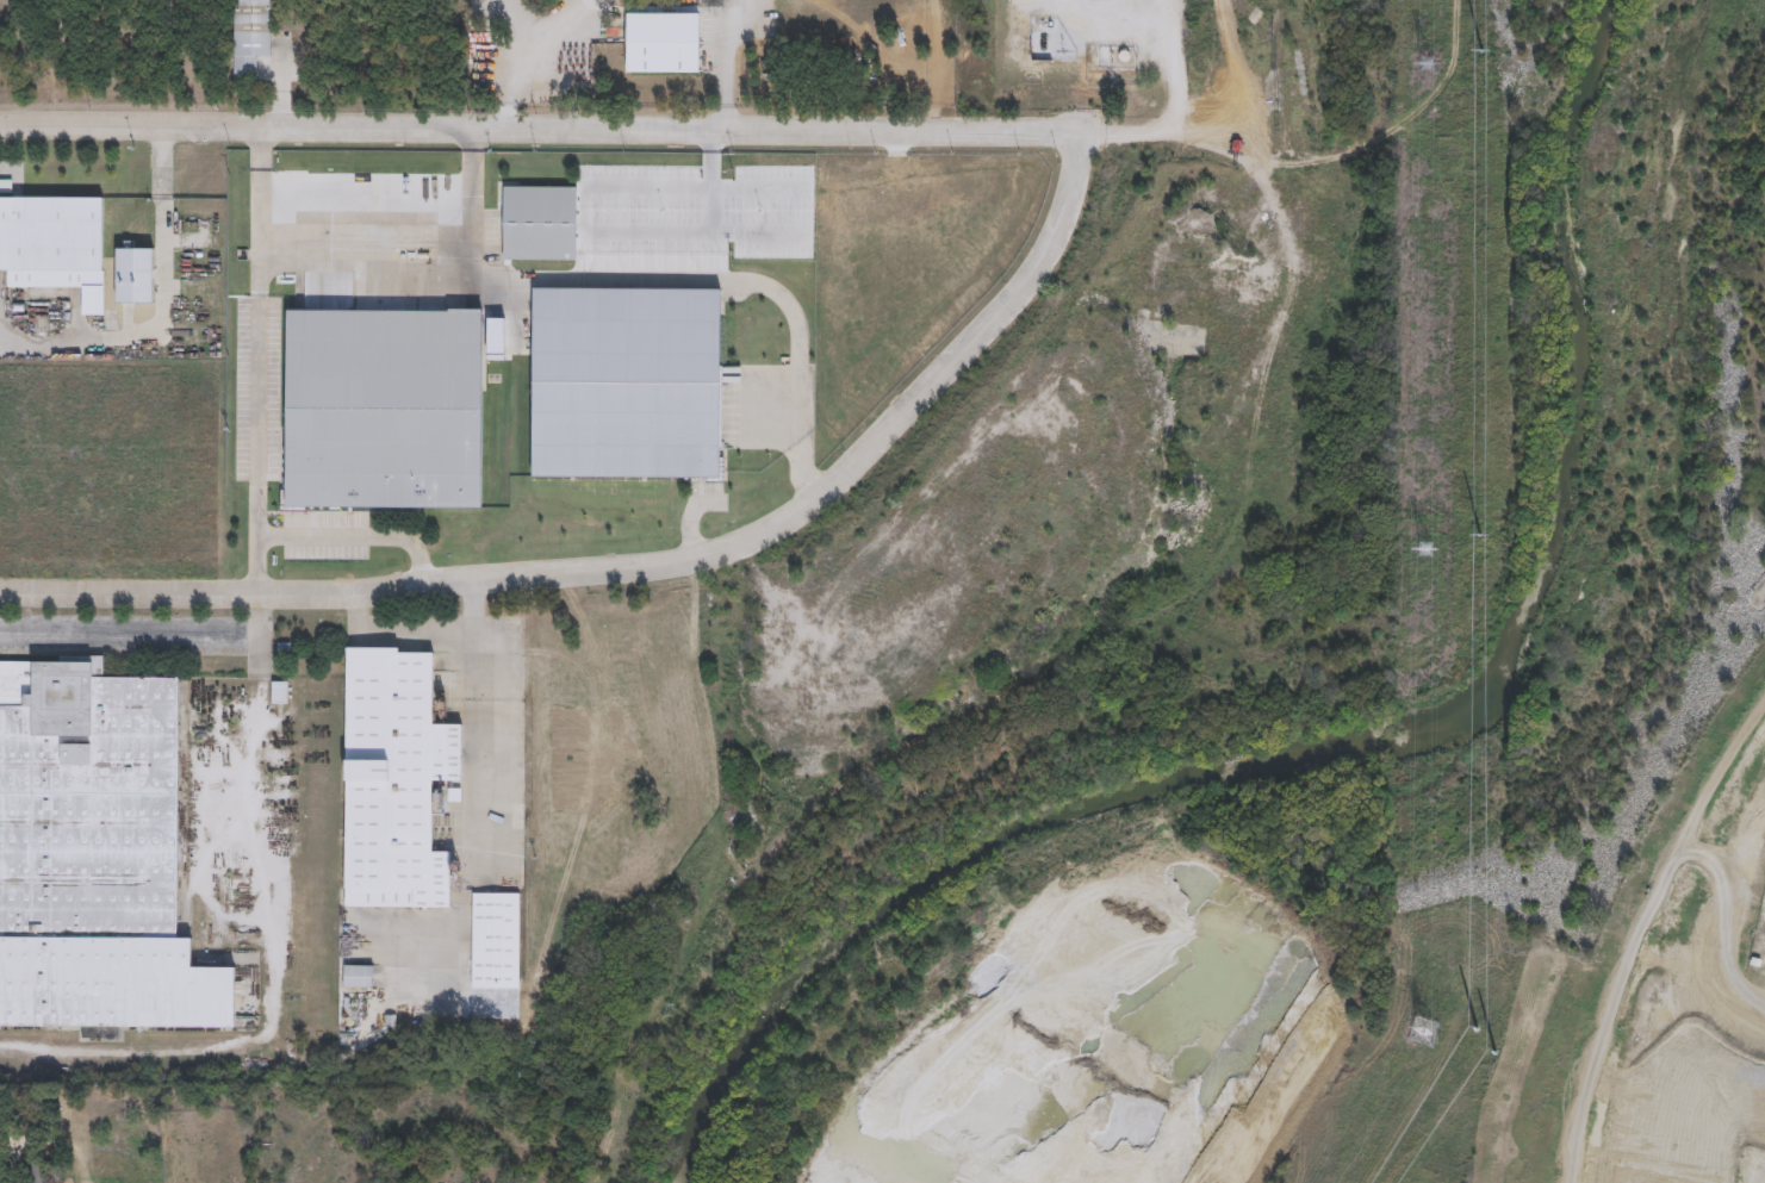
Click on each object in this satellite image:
building: (248, 35)
building: (659, 43)
power tower: (1481, 49)
power tower: (1427, 62)
road: (731, 70)
road: (1174, 85)
road: (534, 127)
river: (1571, 161)
building: (537, 224)
building: (48, 237)
road: (420, 241)
road: (161, 307)
road: (259, 361)
building: (623, 380)
building: (380, 407)
power tower: (1480, 533)
road: (356, 535)
power tower: (1424, 547)
road: (648, 564)
road: (394, 635)
road: (151, 636)
building: (279, 691)
road: (496, 705)
building: (390, 782)
building: (94, 855)
landfill: (1421, 928)
building: (496, 941)
building: (359, 976)
power tower: (1477, 1027)
power tower: (1422, 1032)
building: (288, 1059)
building: (45, 1109)
building: (44, 1172)

